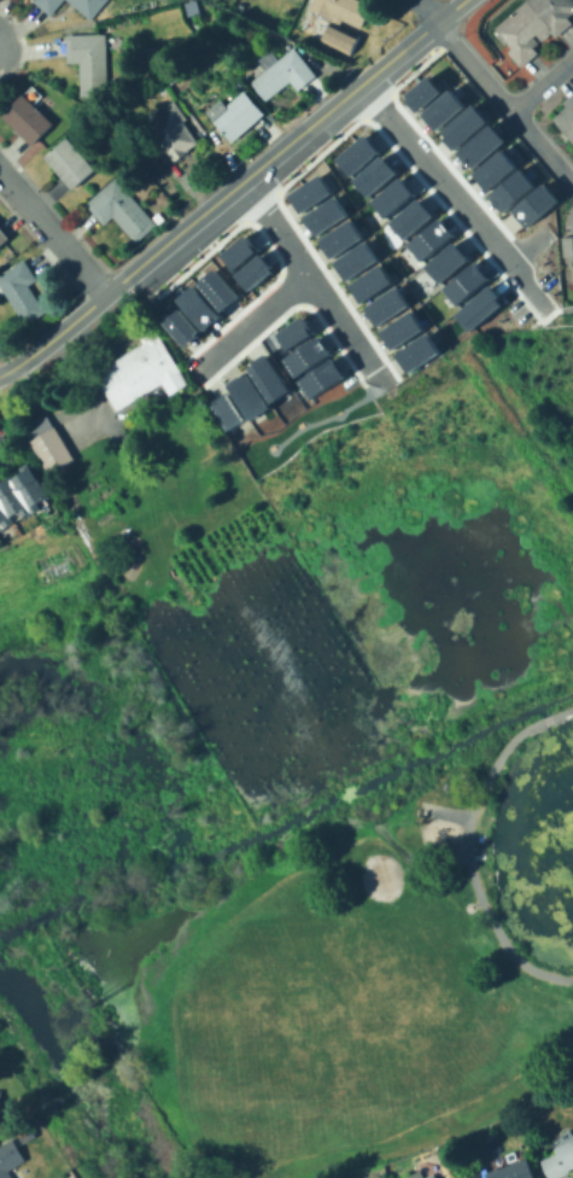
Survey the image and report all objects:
building: (49, 5)
building: (88, 6)
road: (426, 10)
building: (534, 25)
building: (340, 30)
building: (90, 63)
road: (473, 64)
building: (285, 74)
road: (542, 82)
building: (421, 93)
building: (442, 109)
building: (238, 115)
building: (28, 119)
building: (566, 119)
building: (462, 126)
building: (174, 130)
road: (293, 135)
building: (480, 145)
road: (542, 145)
building: (356, 153)
building: (70, 163)
building: (492, 168)
road: (433, 170)
building: (373, 174)
building: (510, 189)
building: (309, 192)
building: (391, 196)
building: (533, 204)
building: (122, 210)
building: (324, 215)
building: (410, 218)
road: (52, 233)
building: (4, 237)
building: (339, 238)
building: (428, 239)
road: (526, 244)
building: (567, 249)
building: (239, 251)
building: (355, 259)
building: (445, 261)
building: (252, 272)
building: (369, 282)
building: (464, 282)
road: (527, 282)
road: (316, 284)
building: (216, 288)
building: (22, 292)
building: (385, 305)
building: (198, 307)
building: (479, 307)
road: (560, 308)
road: (65, 325)
road: (251, 325)
building: (181, 326)
building: (400, 330)
building: (294, 332)
building: (416, 352)
building: (306, 356)
building: (142, 372)
building: (268, 377)
building: (321, 378)
building: (247, 395)
building: (227, 410)
building: (48, 443)
building: (22, 497)
road: (567, 708)
road: (545, 718)
road: (468, 868)
park: (351, 960)
park: (317, 1010)
building: (0, 1112)
building: (25, 1130)
building: (10, 1159)
building: (560, 1161)
building: (508, 1171)
building: (416, 1174)
building: (433, 1176)

